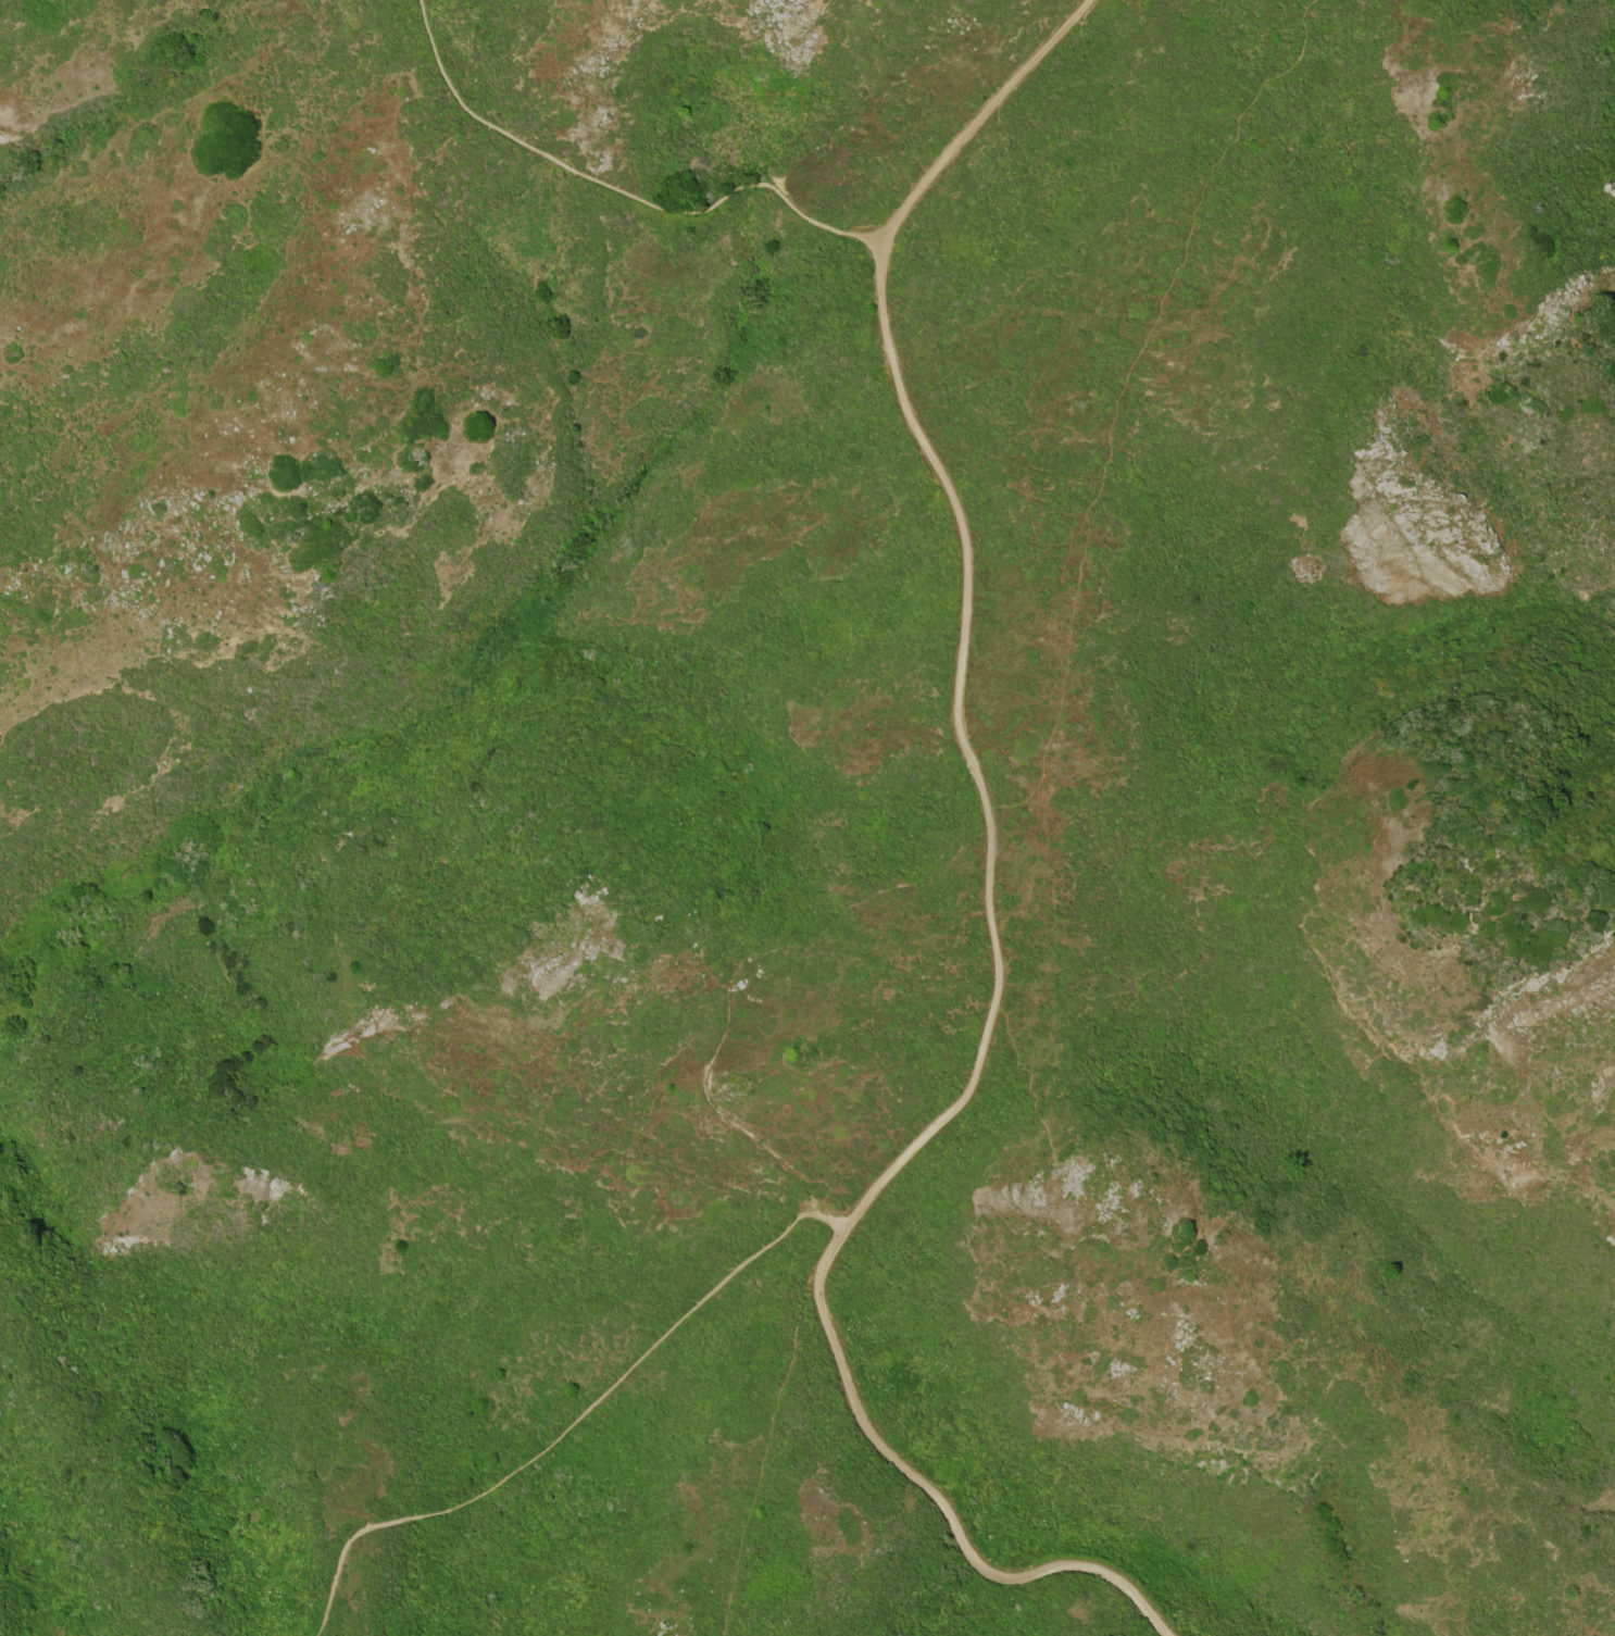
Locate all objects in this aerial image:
road: (987, 117)
road: (619, 191)
road: (979, 1058)
road: (568, 1422)

